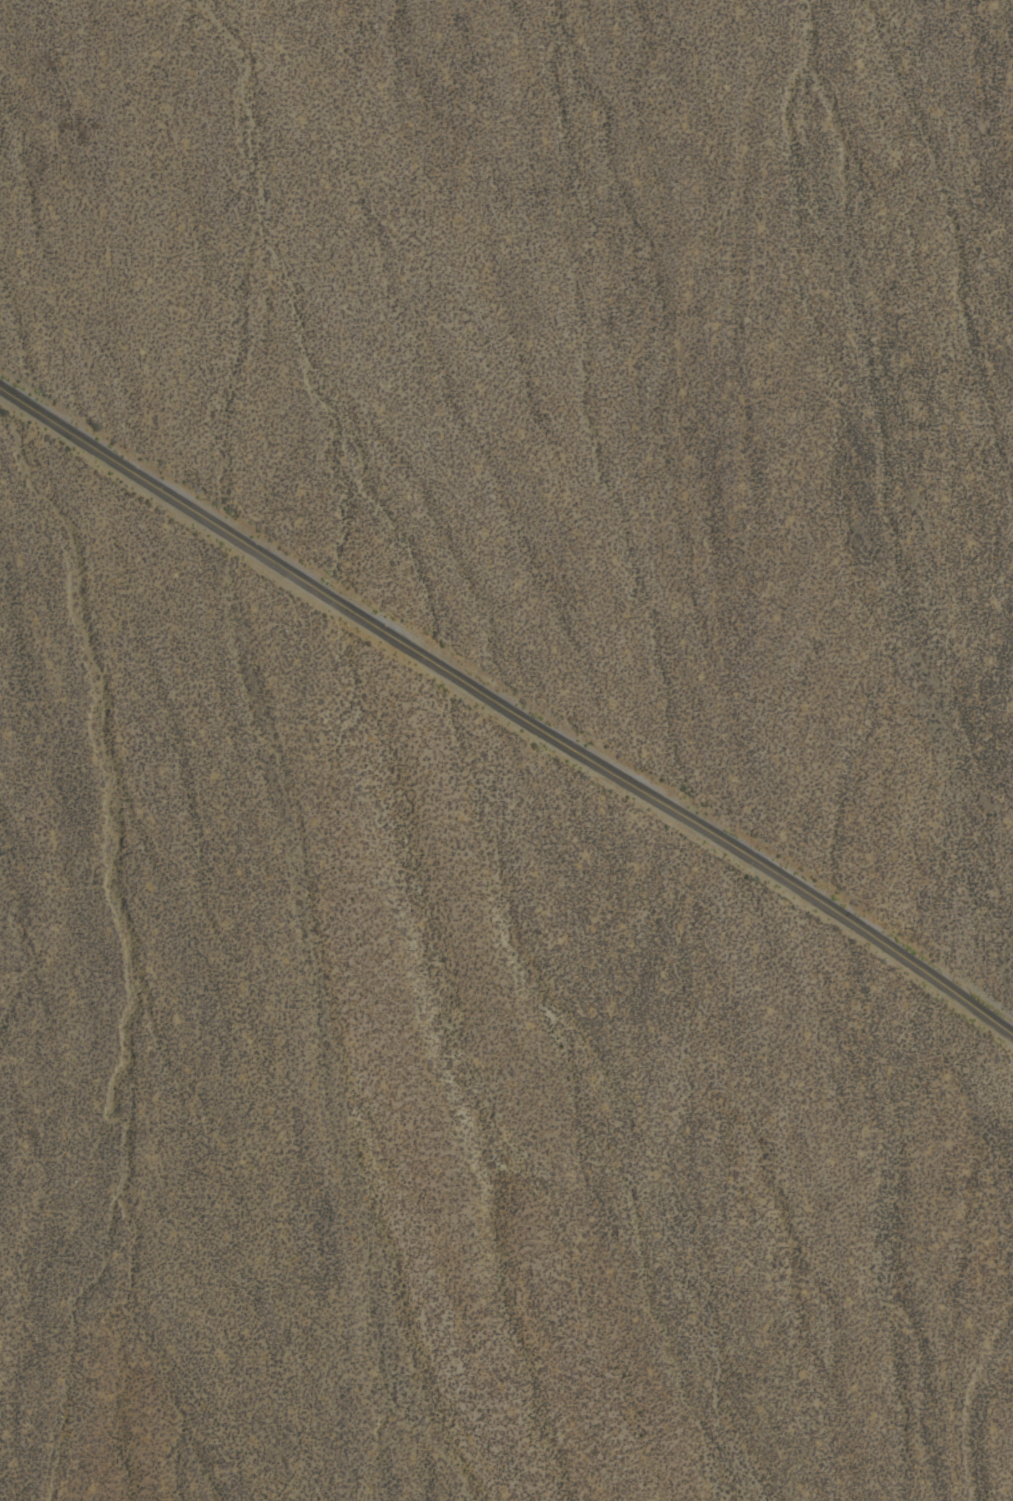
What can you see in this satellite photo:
road: (507, 707)

